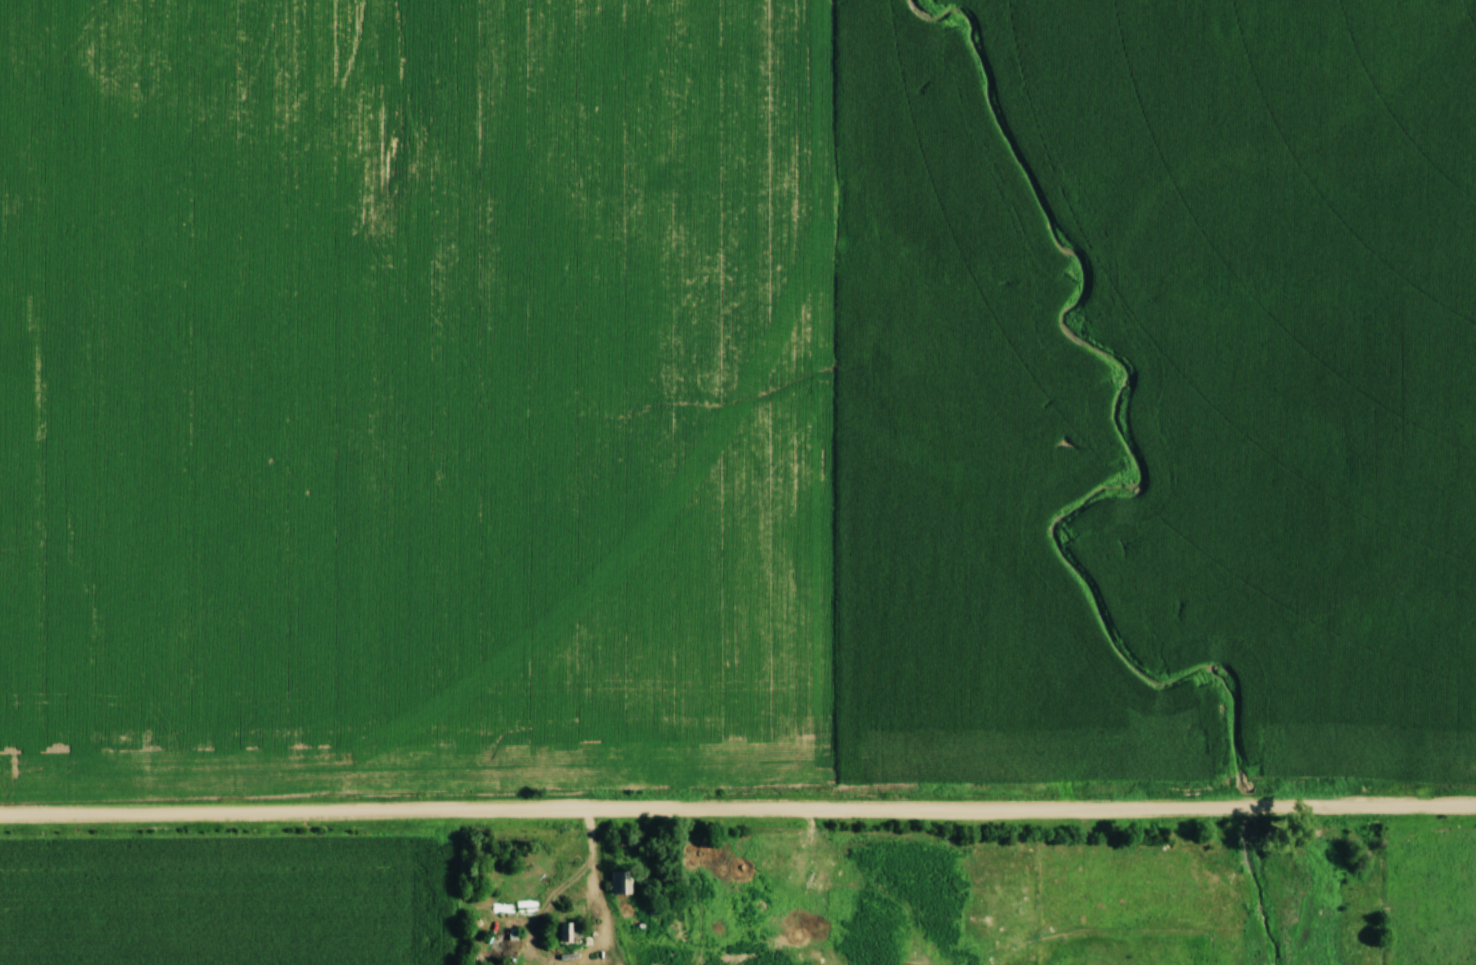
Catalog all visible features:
road: (738, 810)
building: (620, 882)
building: (656, 917)
building: (571, 933)
building: (514, 937)

